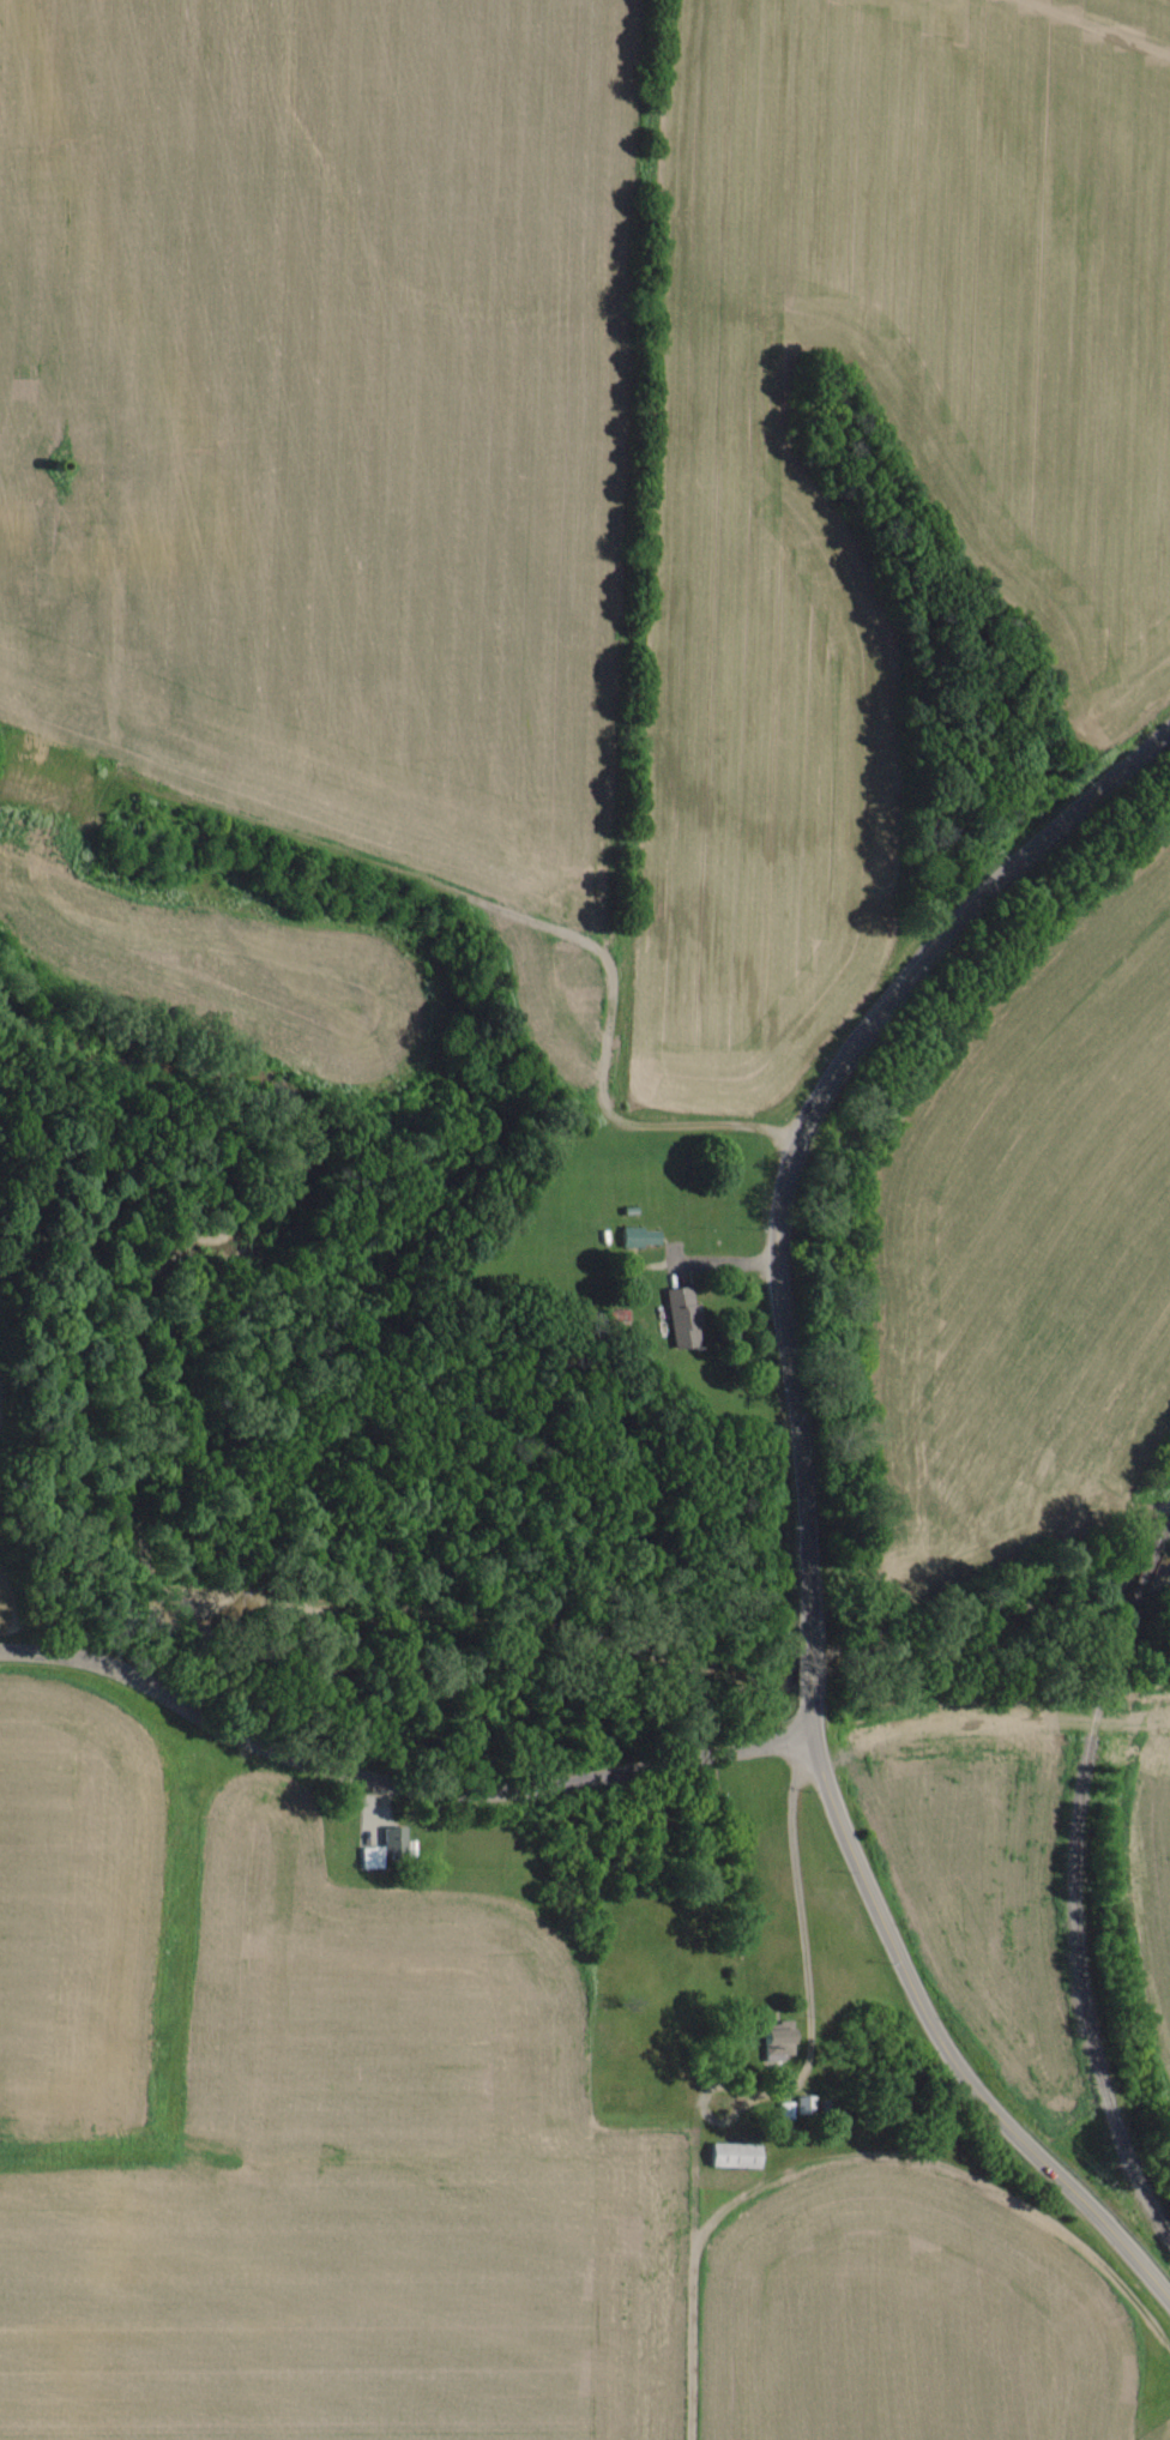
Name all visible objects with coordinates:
road: (405, 875)
road: (810, 1103)
building: (639, 1239)
building: (681, 1319)
road: (808, 1656)
road: (393, 1749)
building: (384, 1848)
railway: (1074, 1878)
road: (933, 2029)
road: (764, 2089)
building: (784, 2110)
building: (731, 2156)

